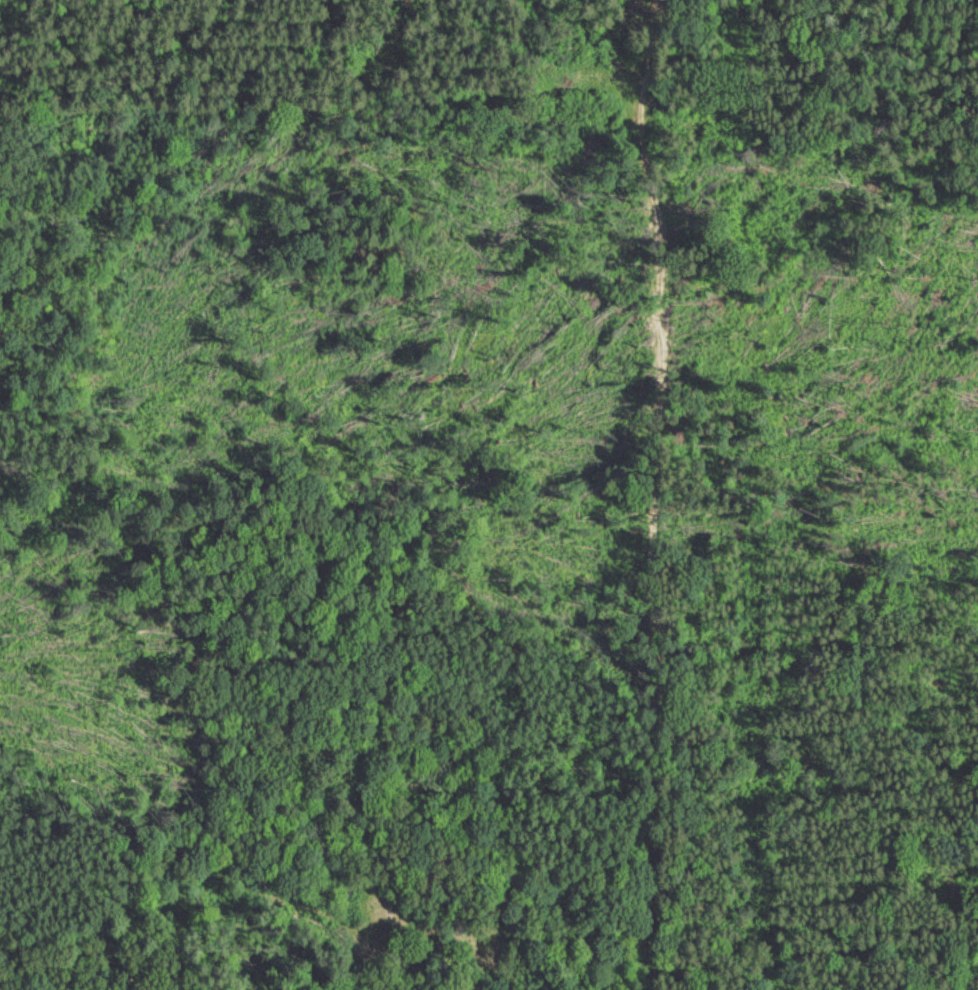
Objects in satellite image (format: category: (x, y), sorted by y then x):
road: (648, 494)

